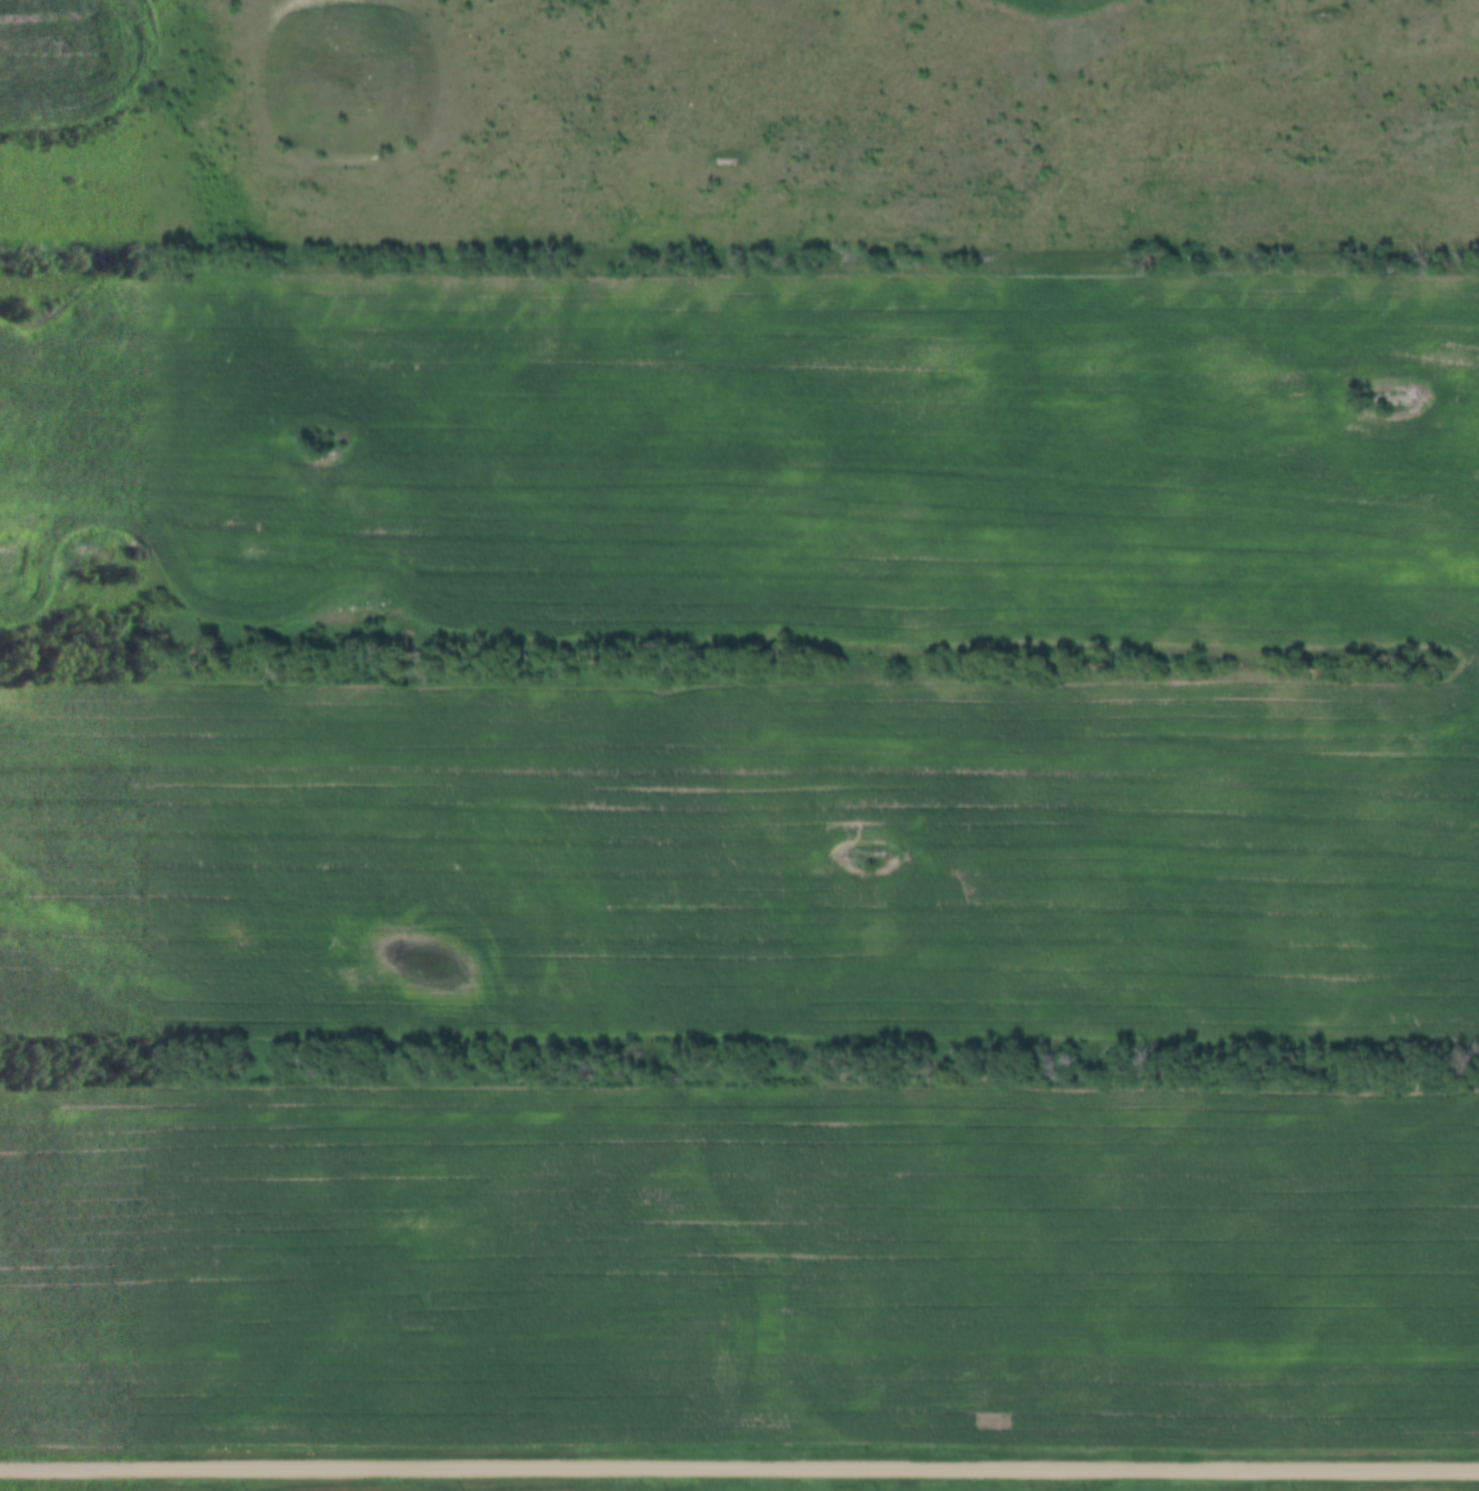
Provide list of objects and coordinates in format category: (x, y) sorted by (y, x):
road: (739, 1466)

